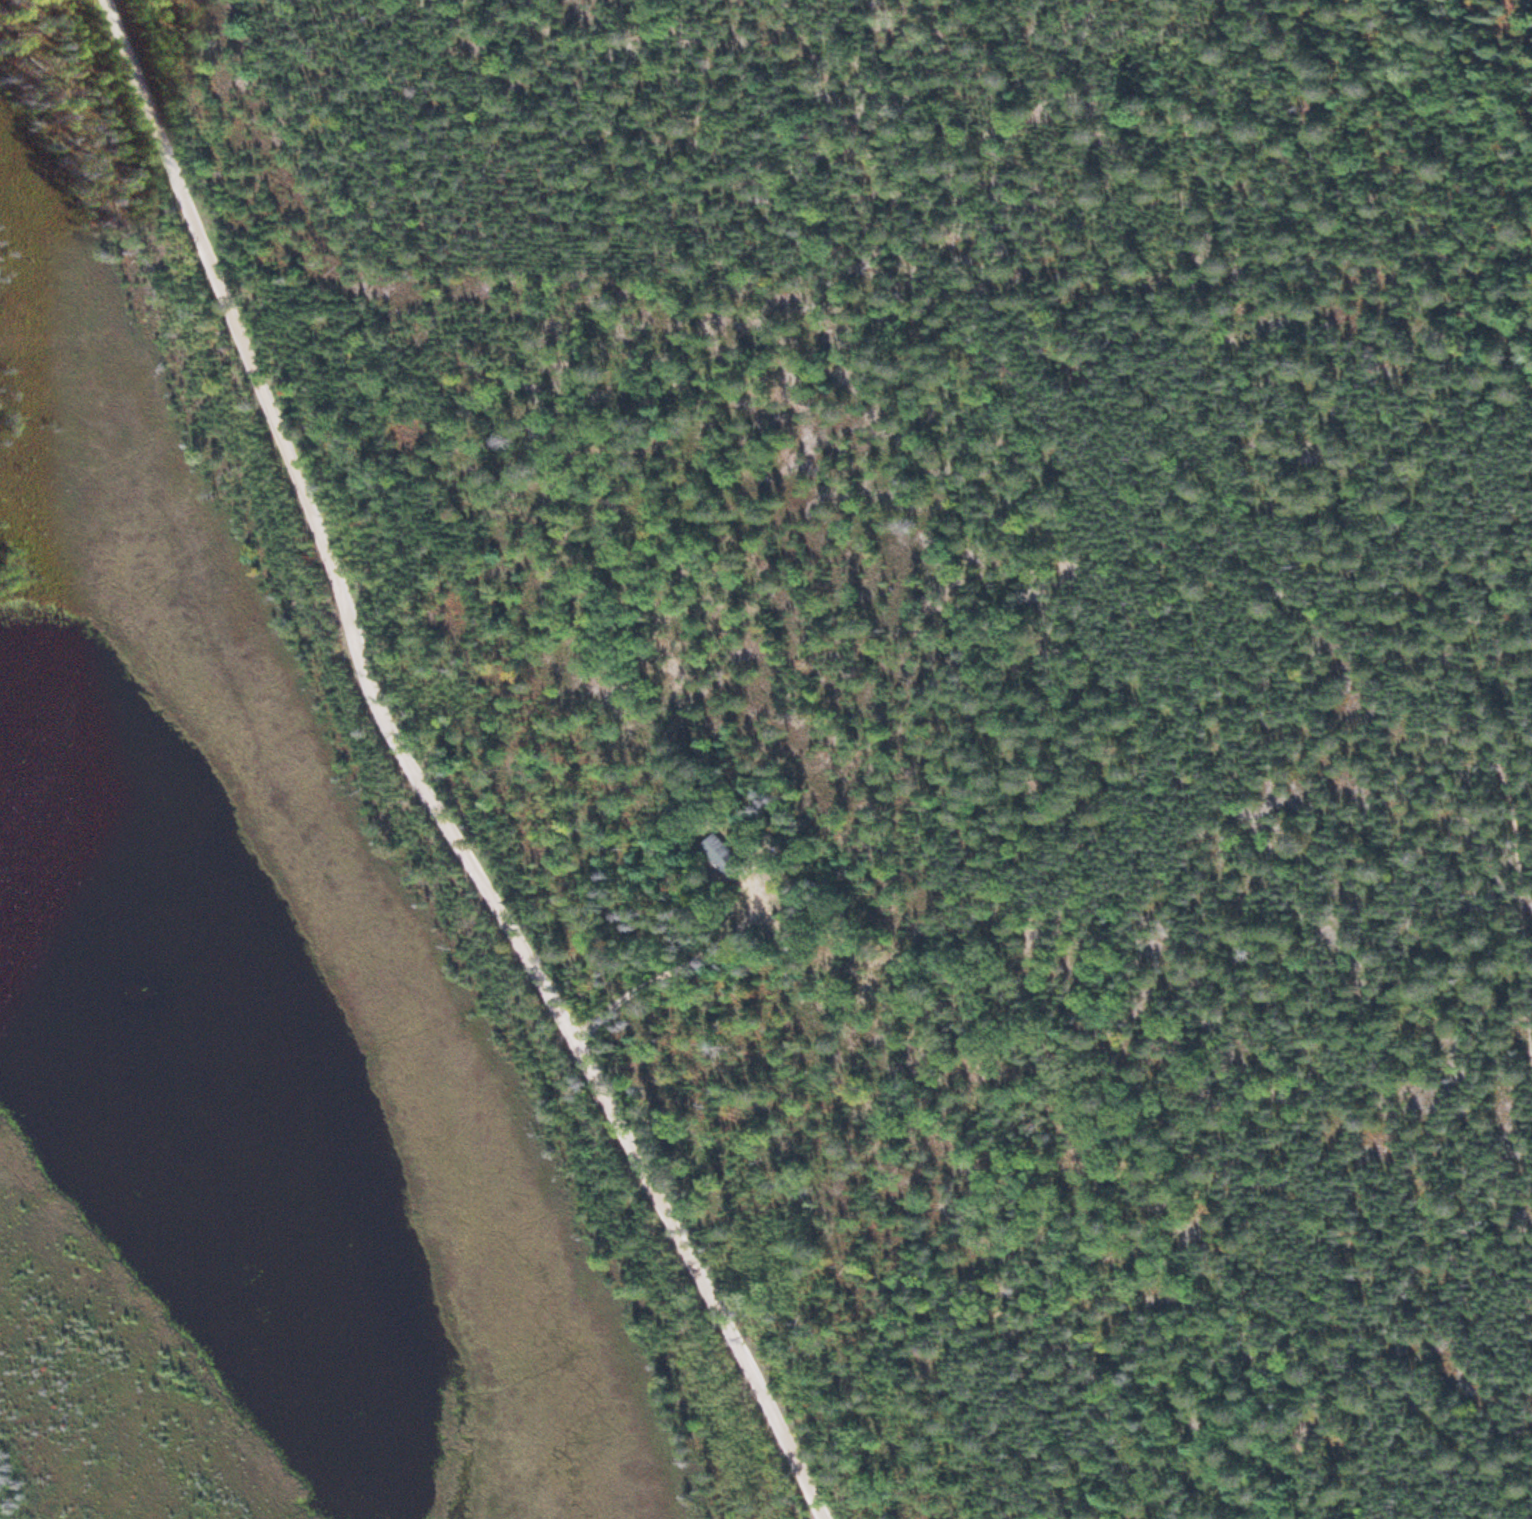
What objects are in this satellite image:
road: (427, 779)
building: (725, 851)

